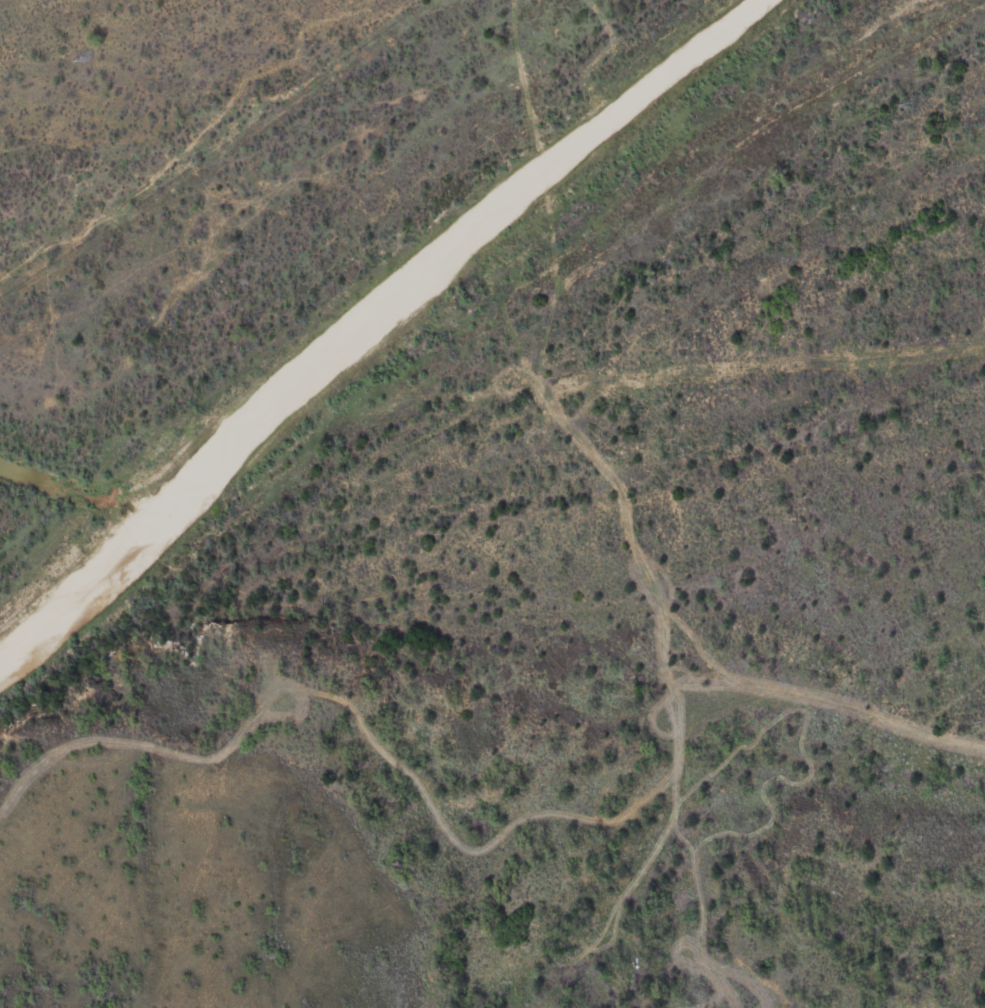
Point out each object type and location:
road: (835, 712)
road: (689, 746)

